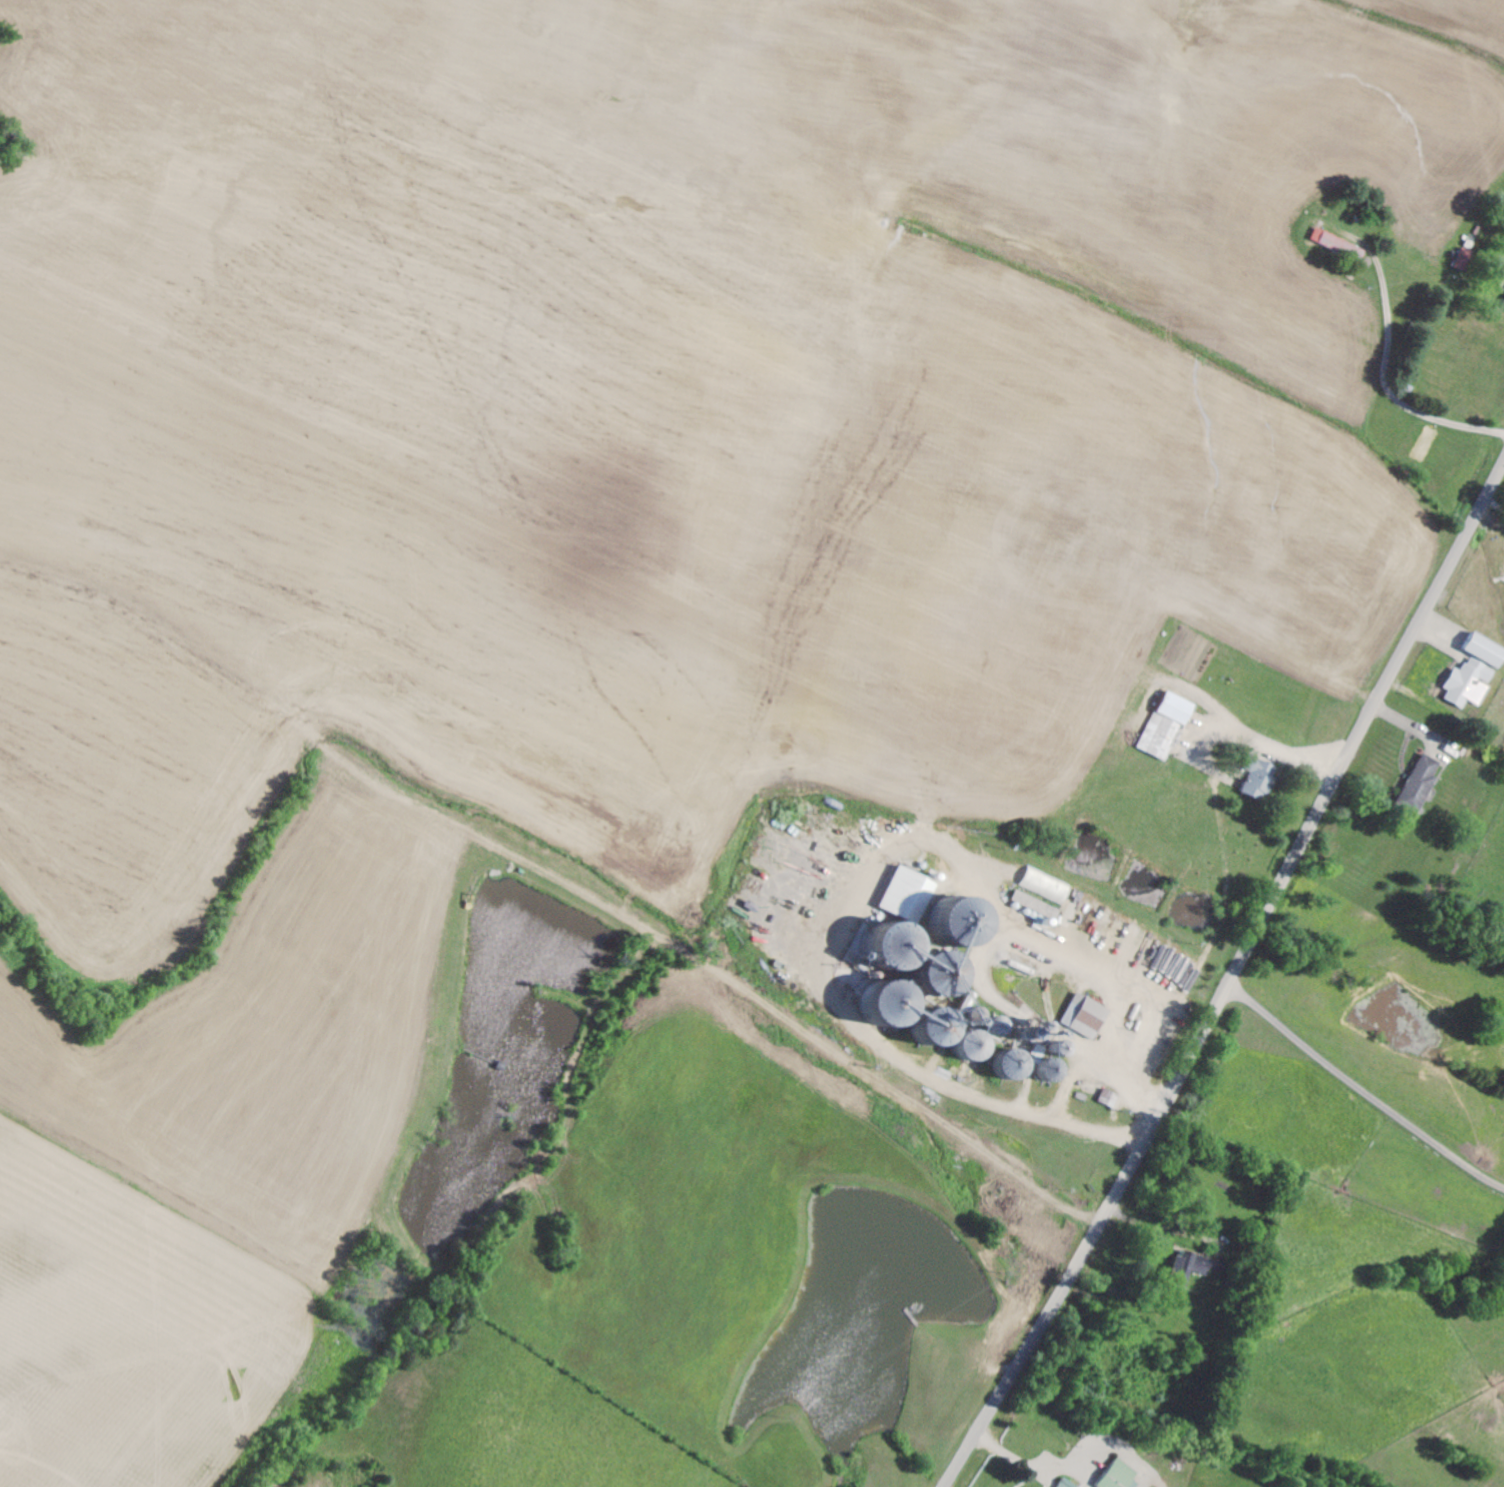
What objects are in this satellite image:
building: (1341, 245)
building: (1488, 648)
building: (1472, 682)
building: (1170, 723)
building: (1261, 776)
building: (1423, 782)
building: (1049, 885)
building: (1040, 904)
road: (1233, 981)
building: (1088, 1015)
building: (1199, 1266)
building: (1122, 1475)

